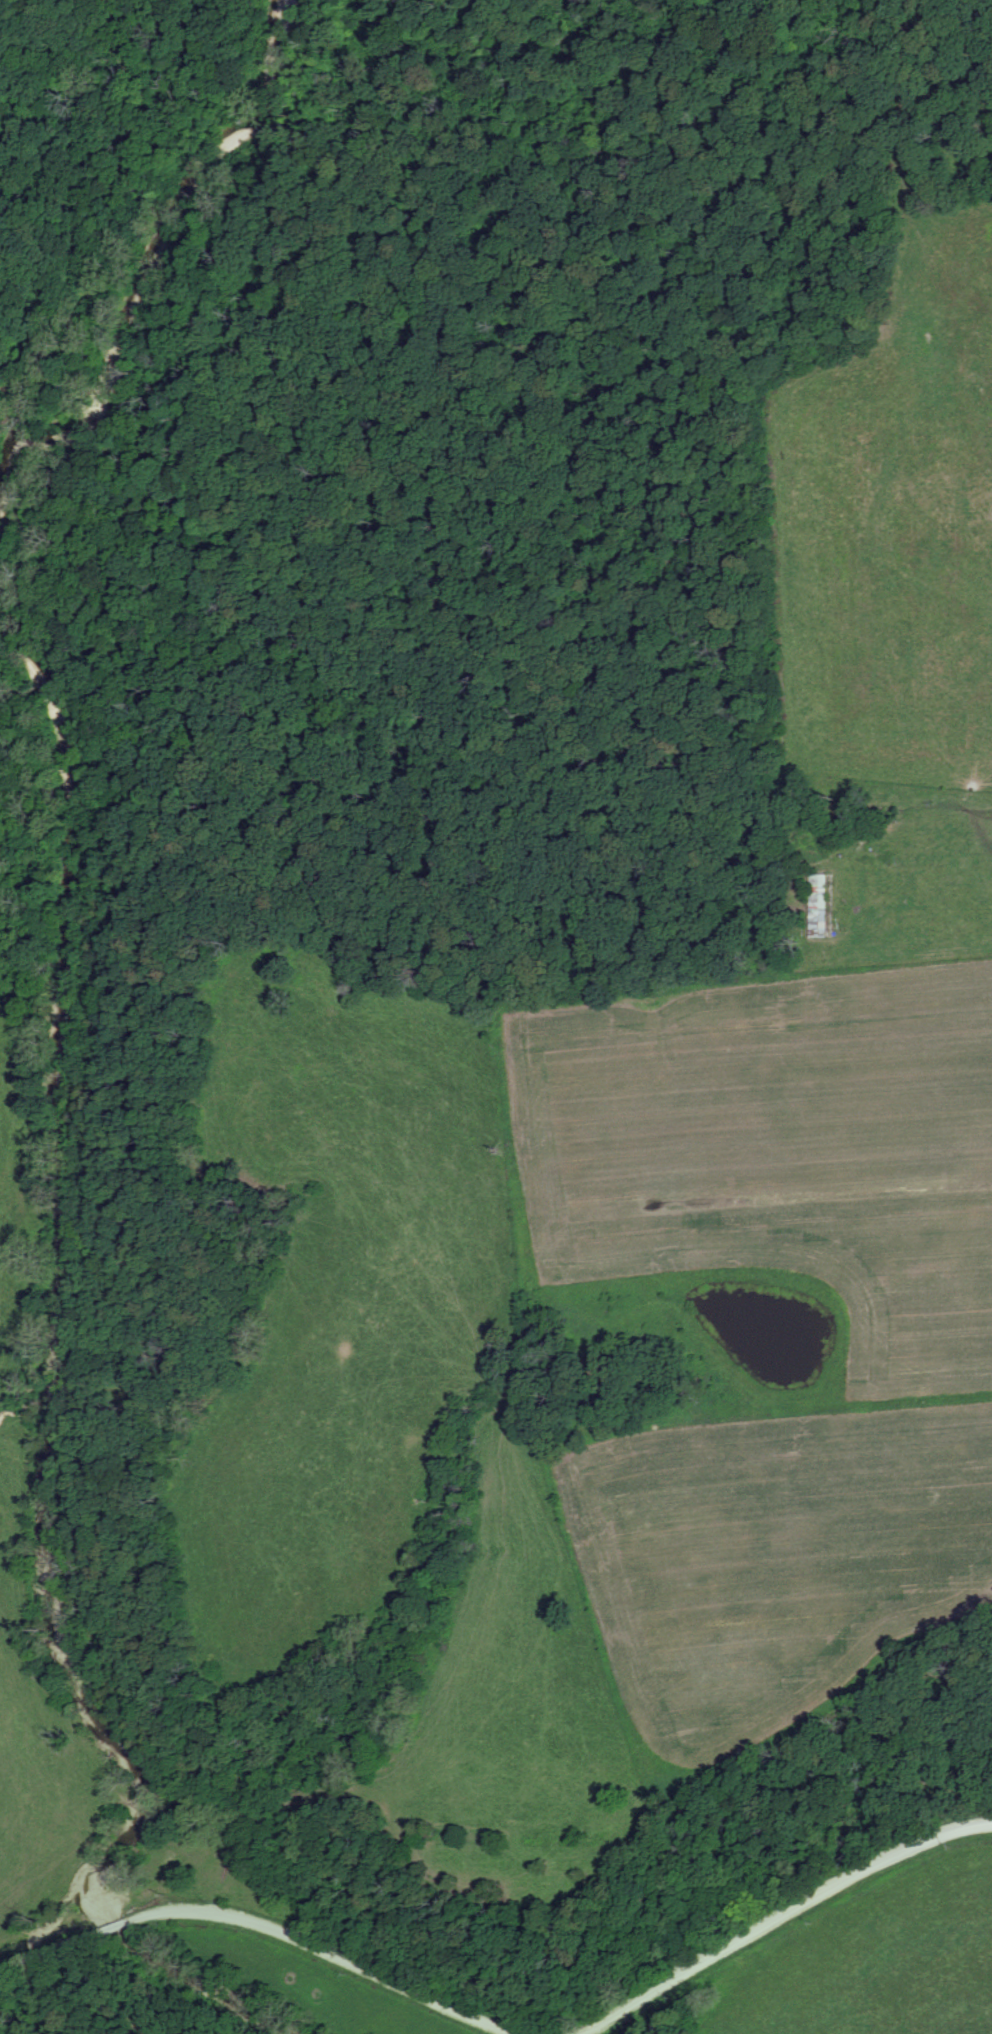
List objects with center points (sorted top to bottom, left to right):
building: (819, 906)
road: (783, 1911)
road: (257, 1923)

